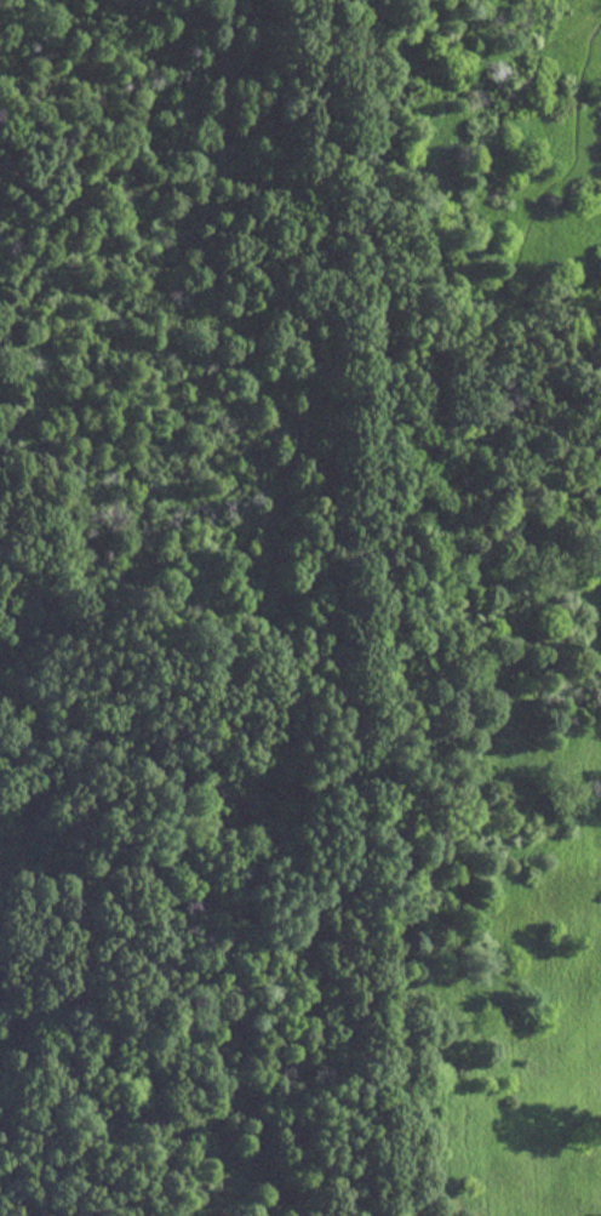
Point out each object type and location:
park: (300, 607)

